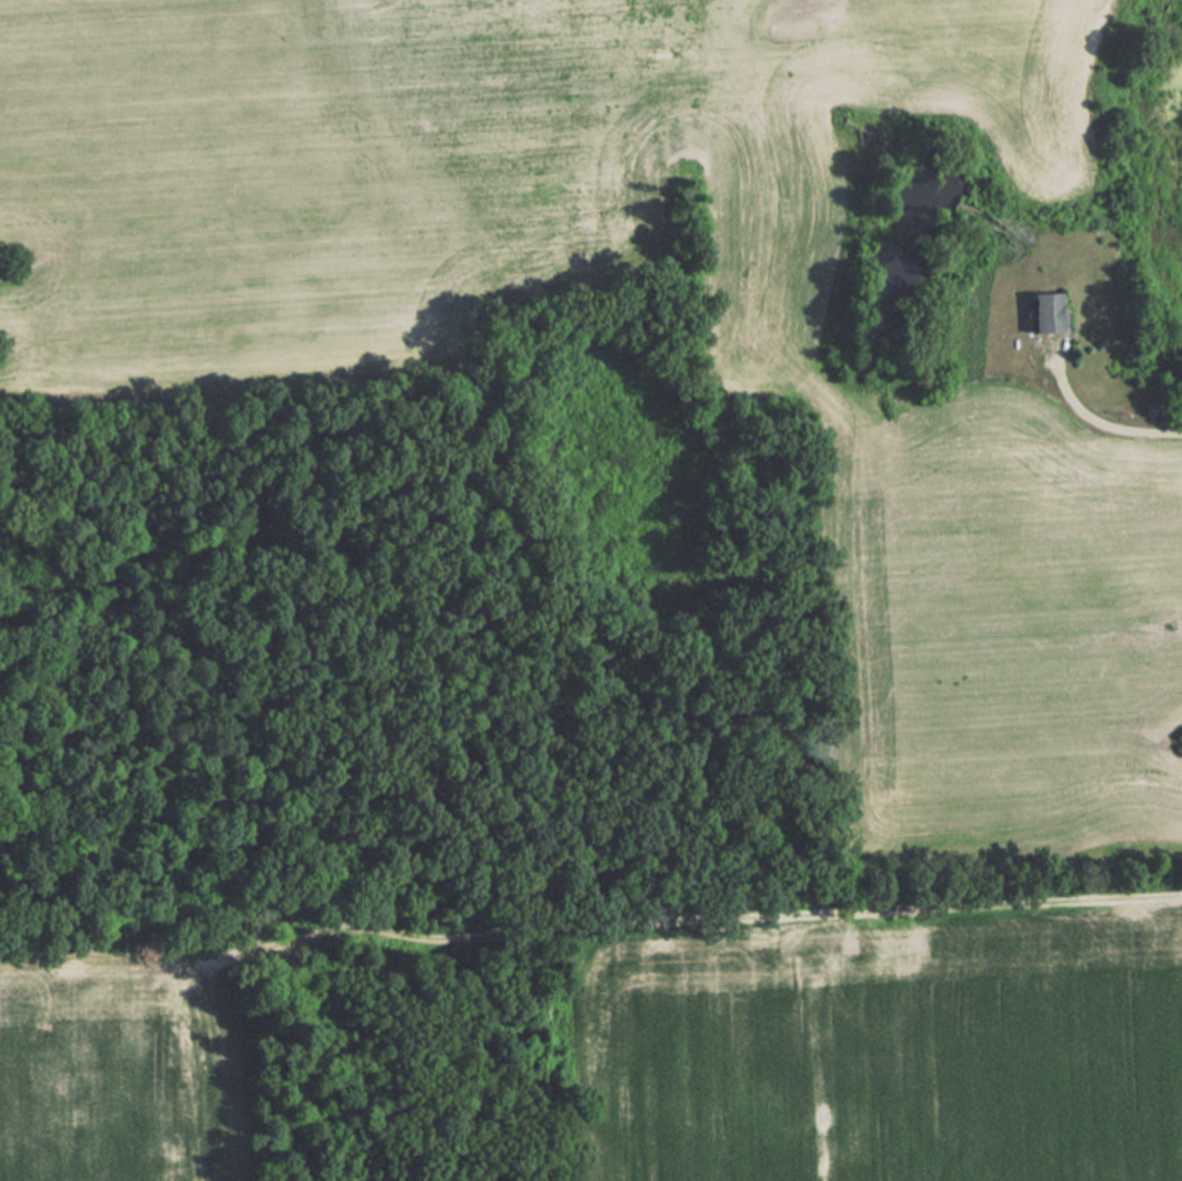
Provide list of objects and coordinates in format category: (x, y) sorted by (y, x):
building: (1044, 309)
road: (1094, 419)

